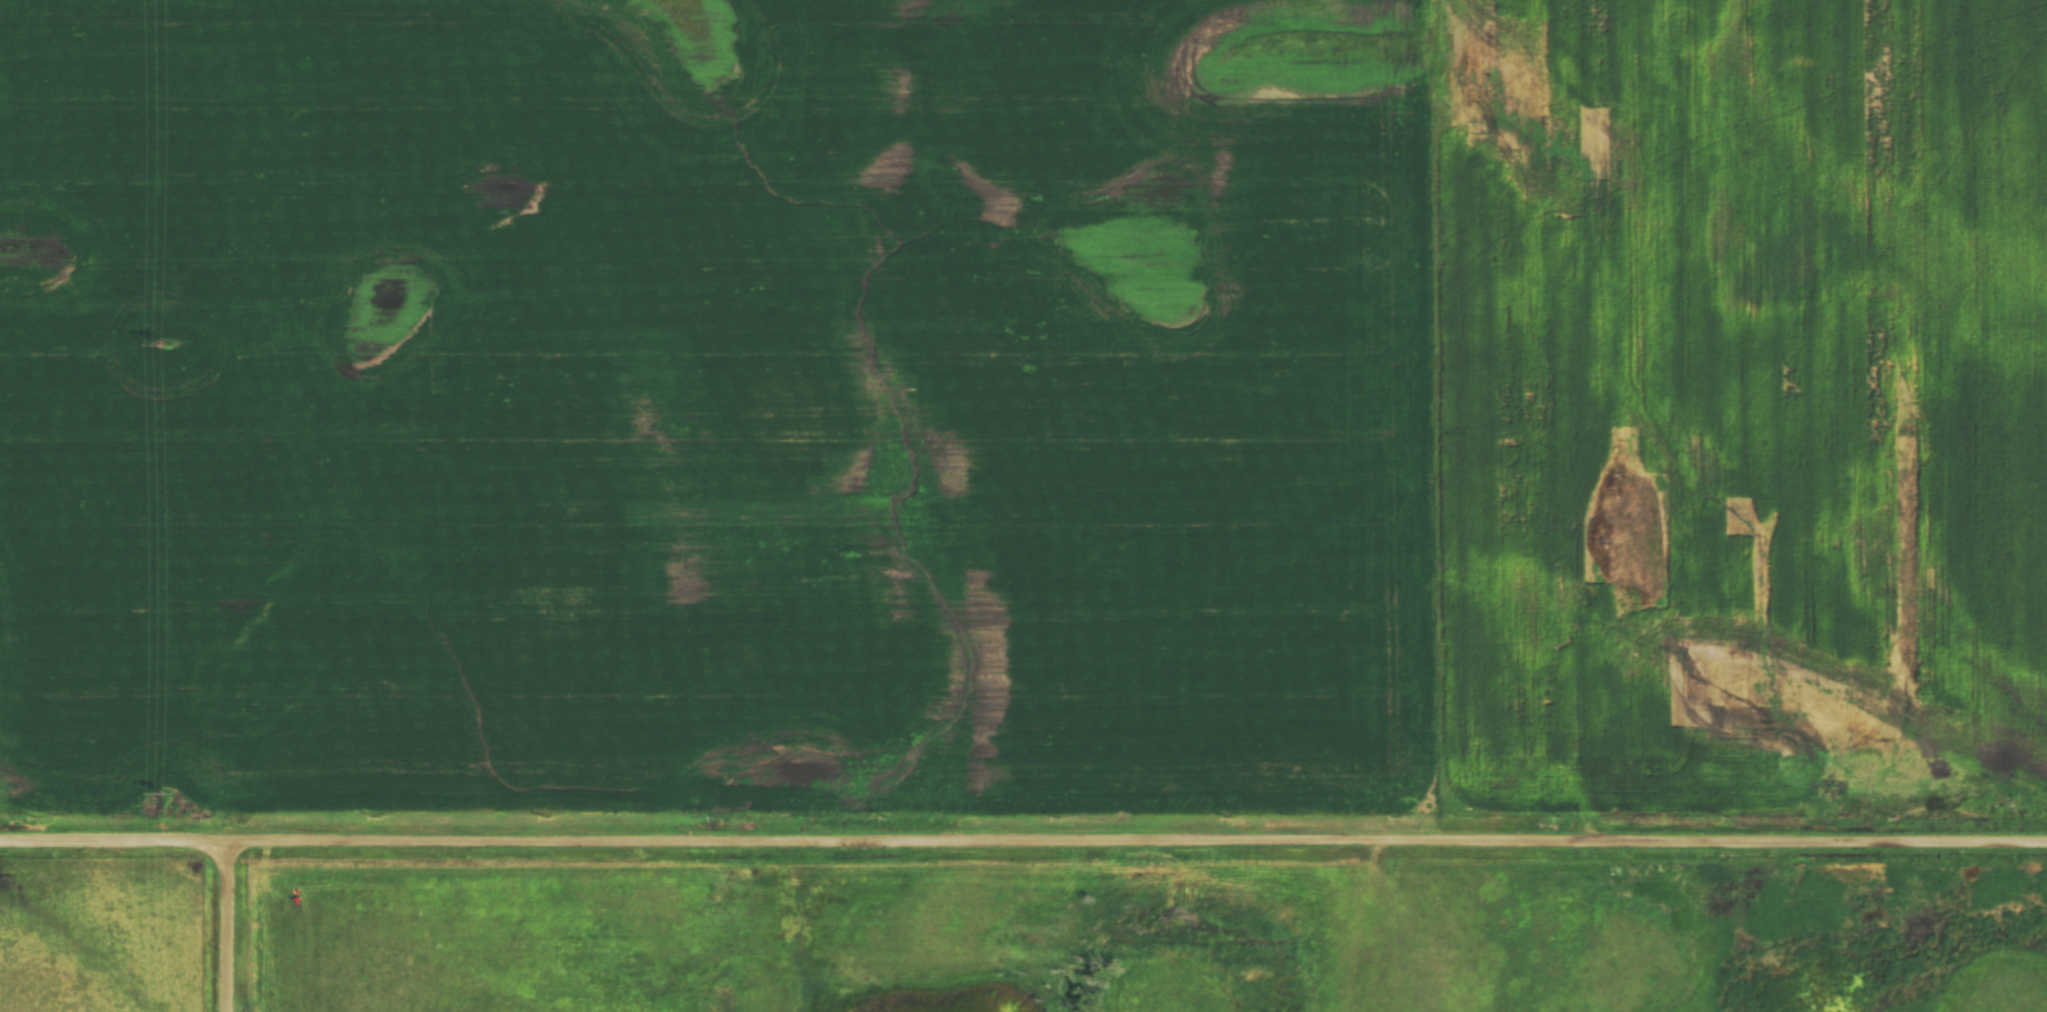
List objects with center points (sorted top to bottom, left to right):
power tower: (165, 345)
power tower: (165, 793)
road: (1023, 852)
road: (201, 935)

